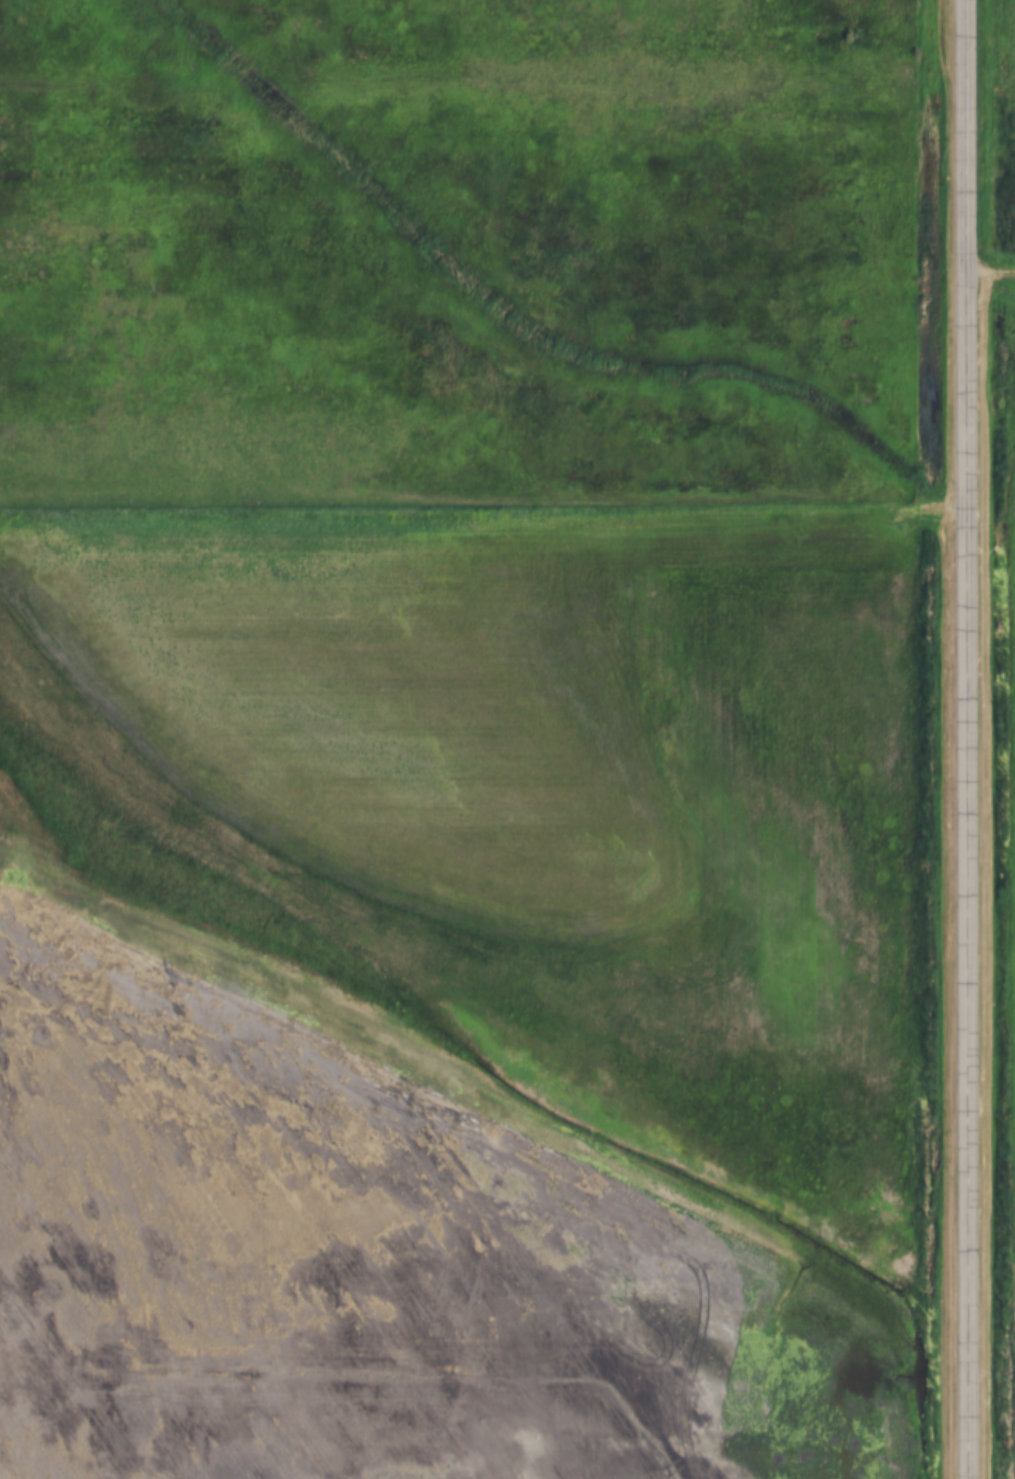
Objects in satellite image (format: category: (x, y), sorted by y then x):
road: (974, 739)

